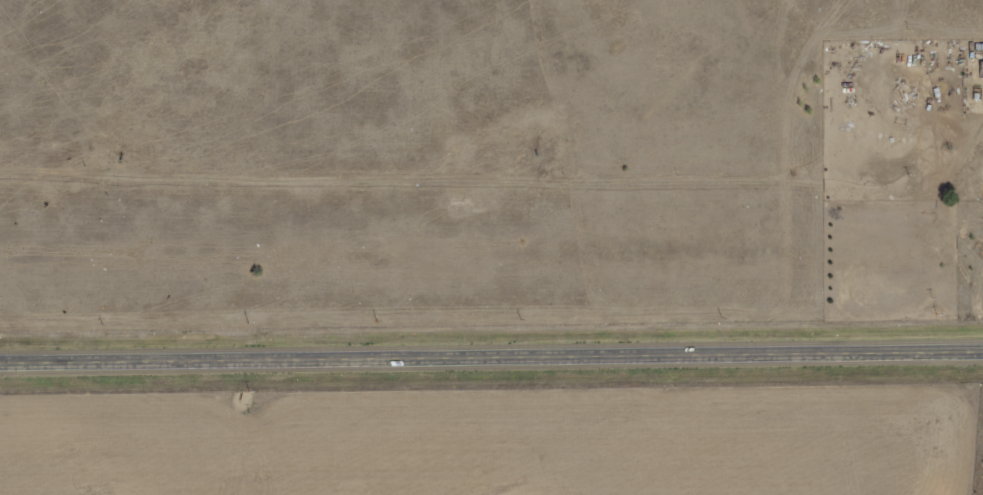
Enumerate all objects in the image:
road: (491, 357)

